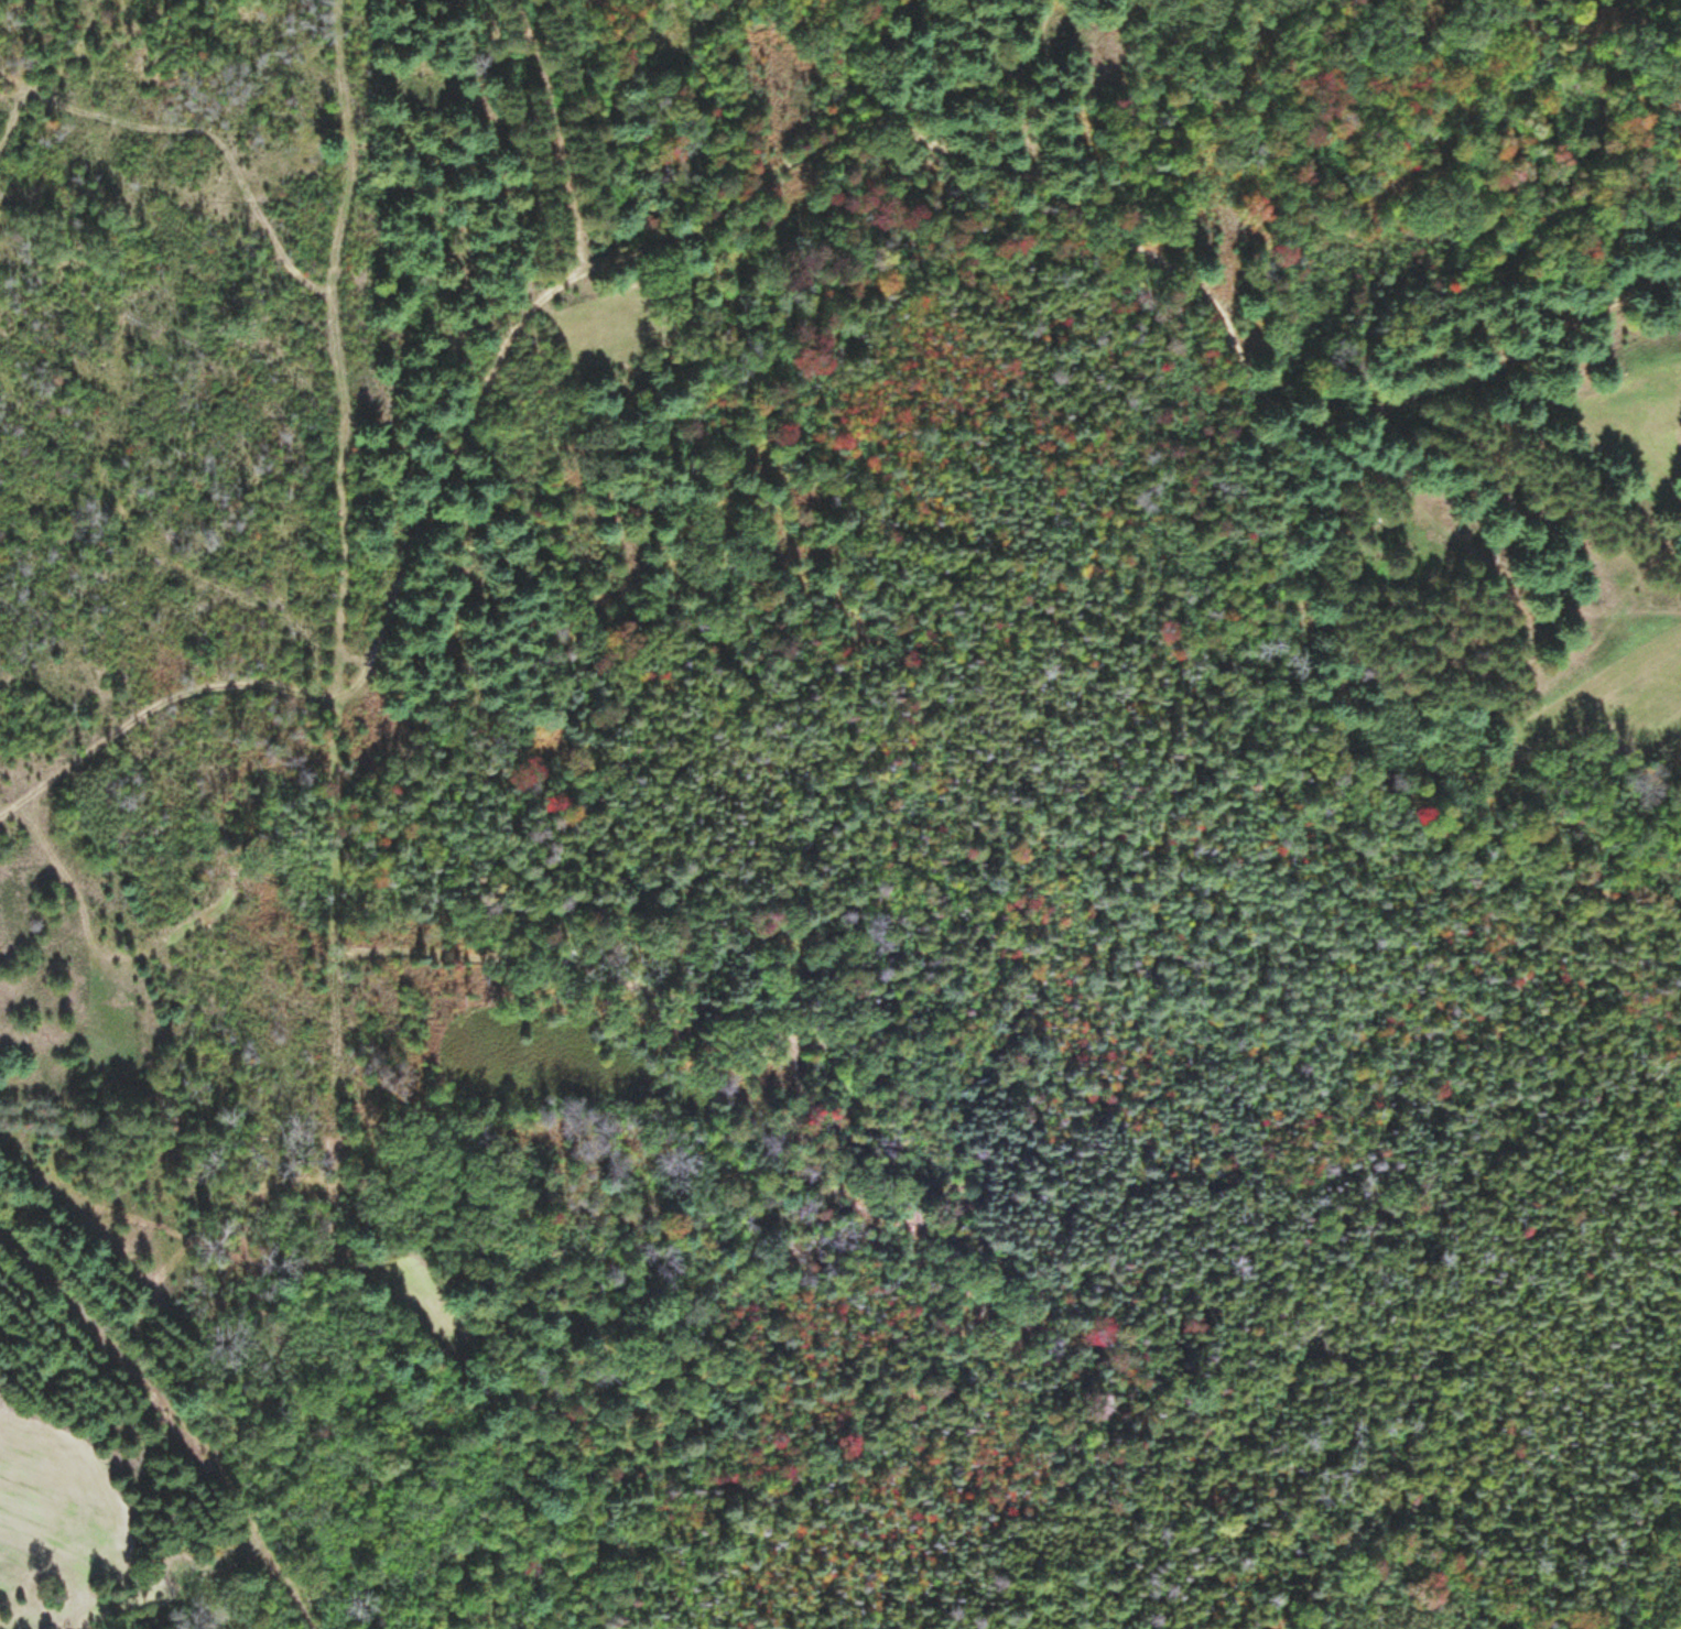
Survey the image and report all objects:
road: (1034, 33)
road: (936, 94)
road: (1328, 422)
road: (441, 491)
road: (183, 1420)
road: (120, 1600)

